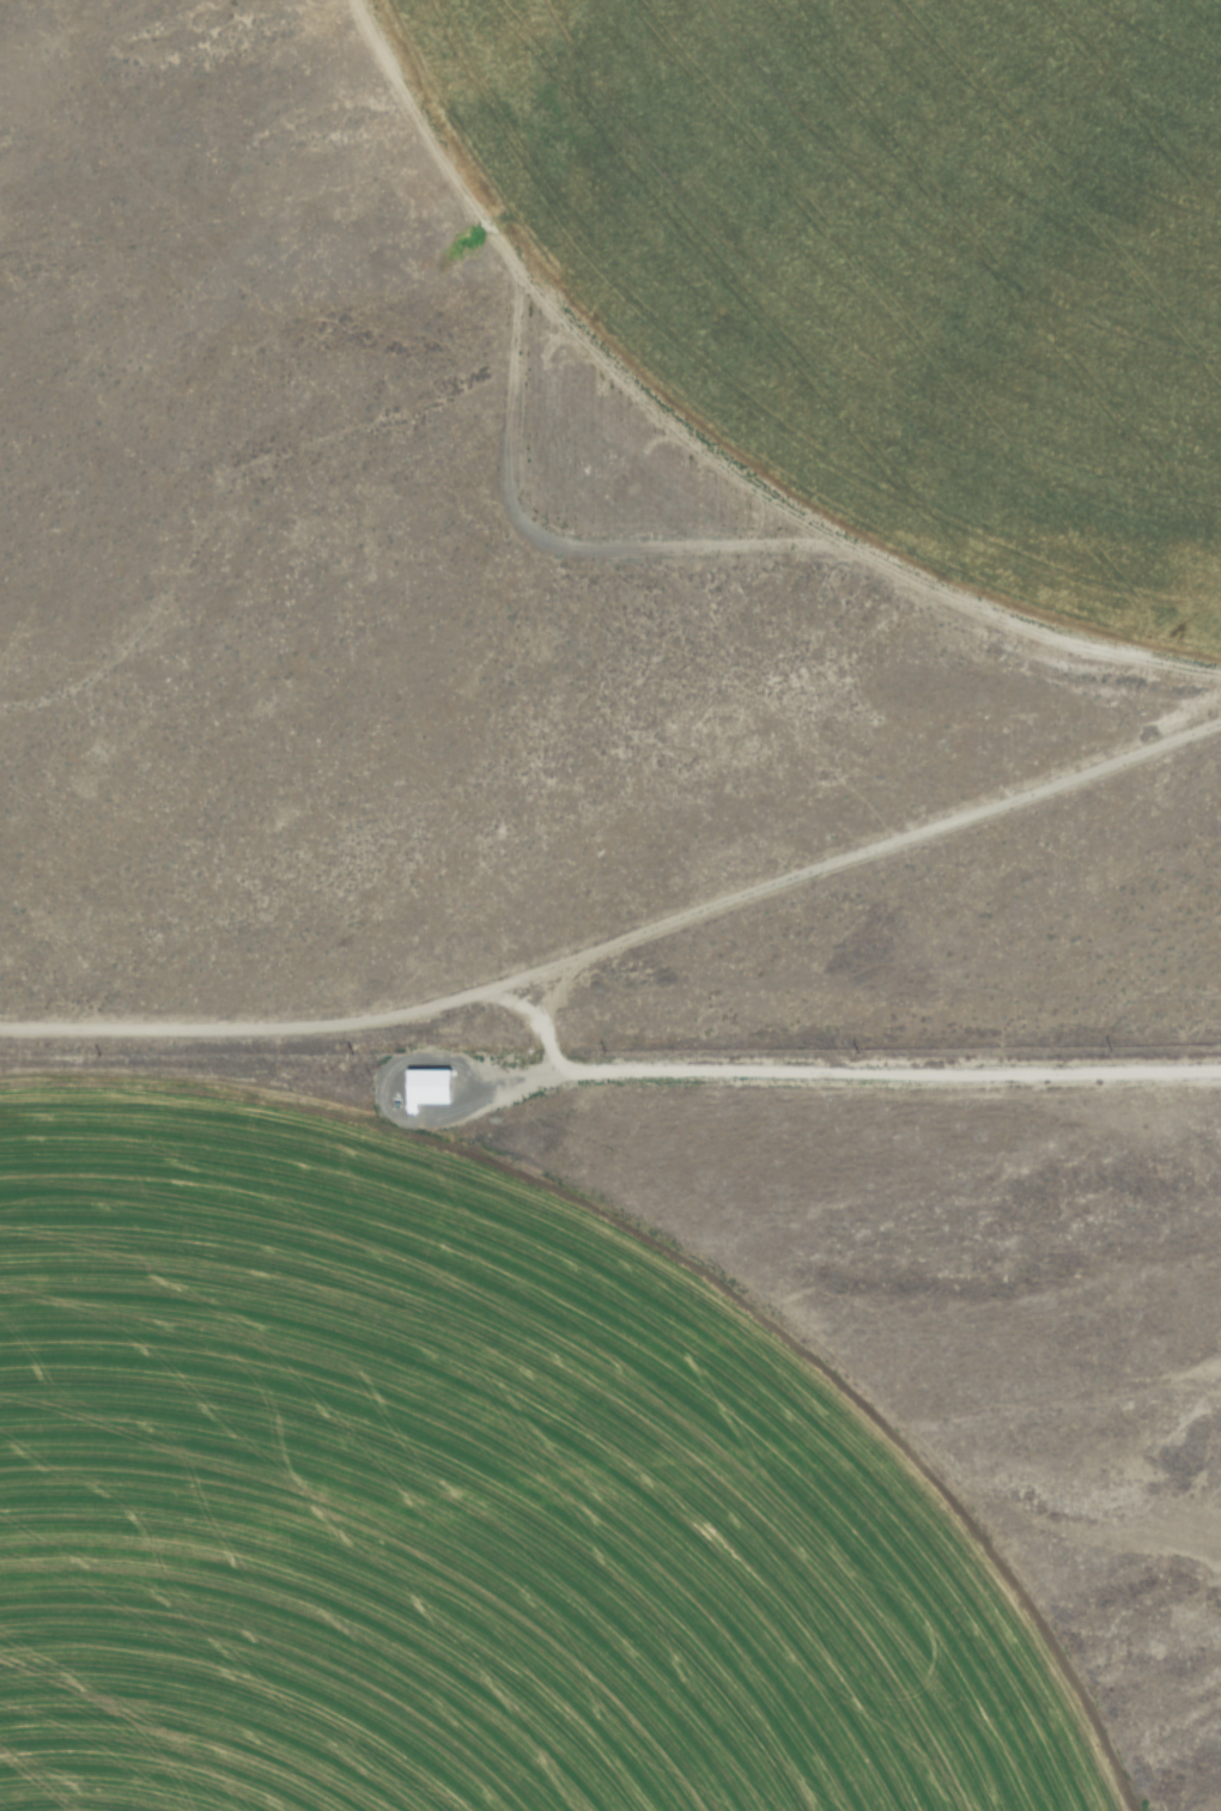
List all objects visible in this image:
crop: (910, 247)
crop: (433, 1524)

